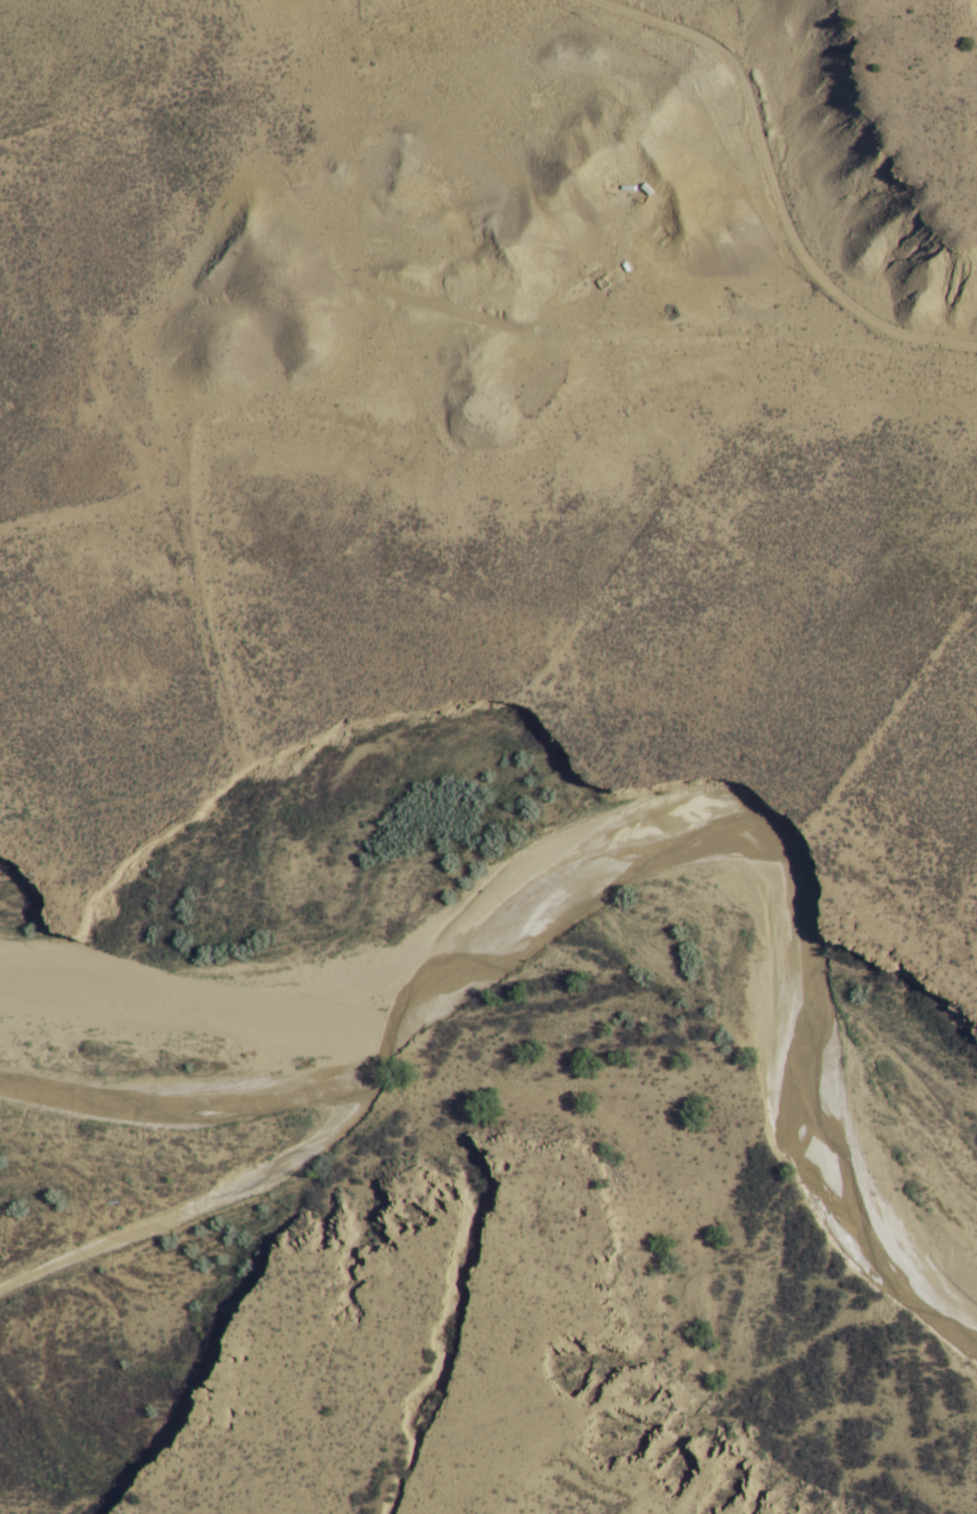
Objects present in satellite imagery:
road: (774, 177)
river: (582, 890)

